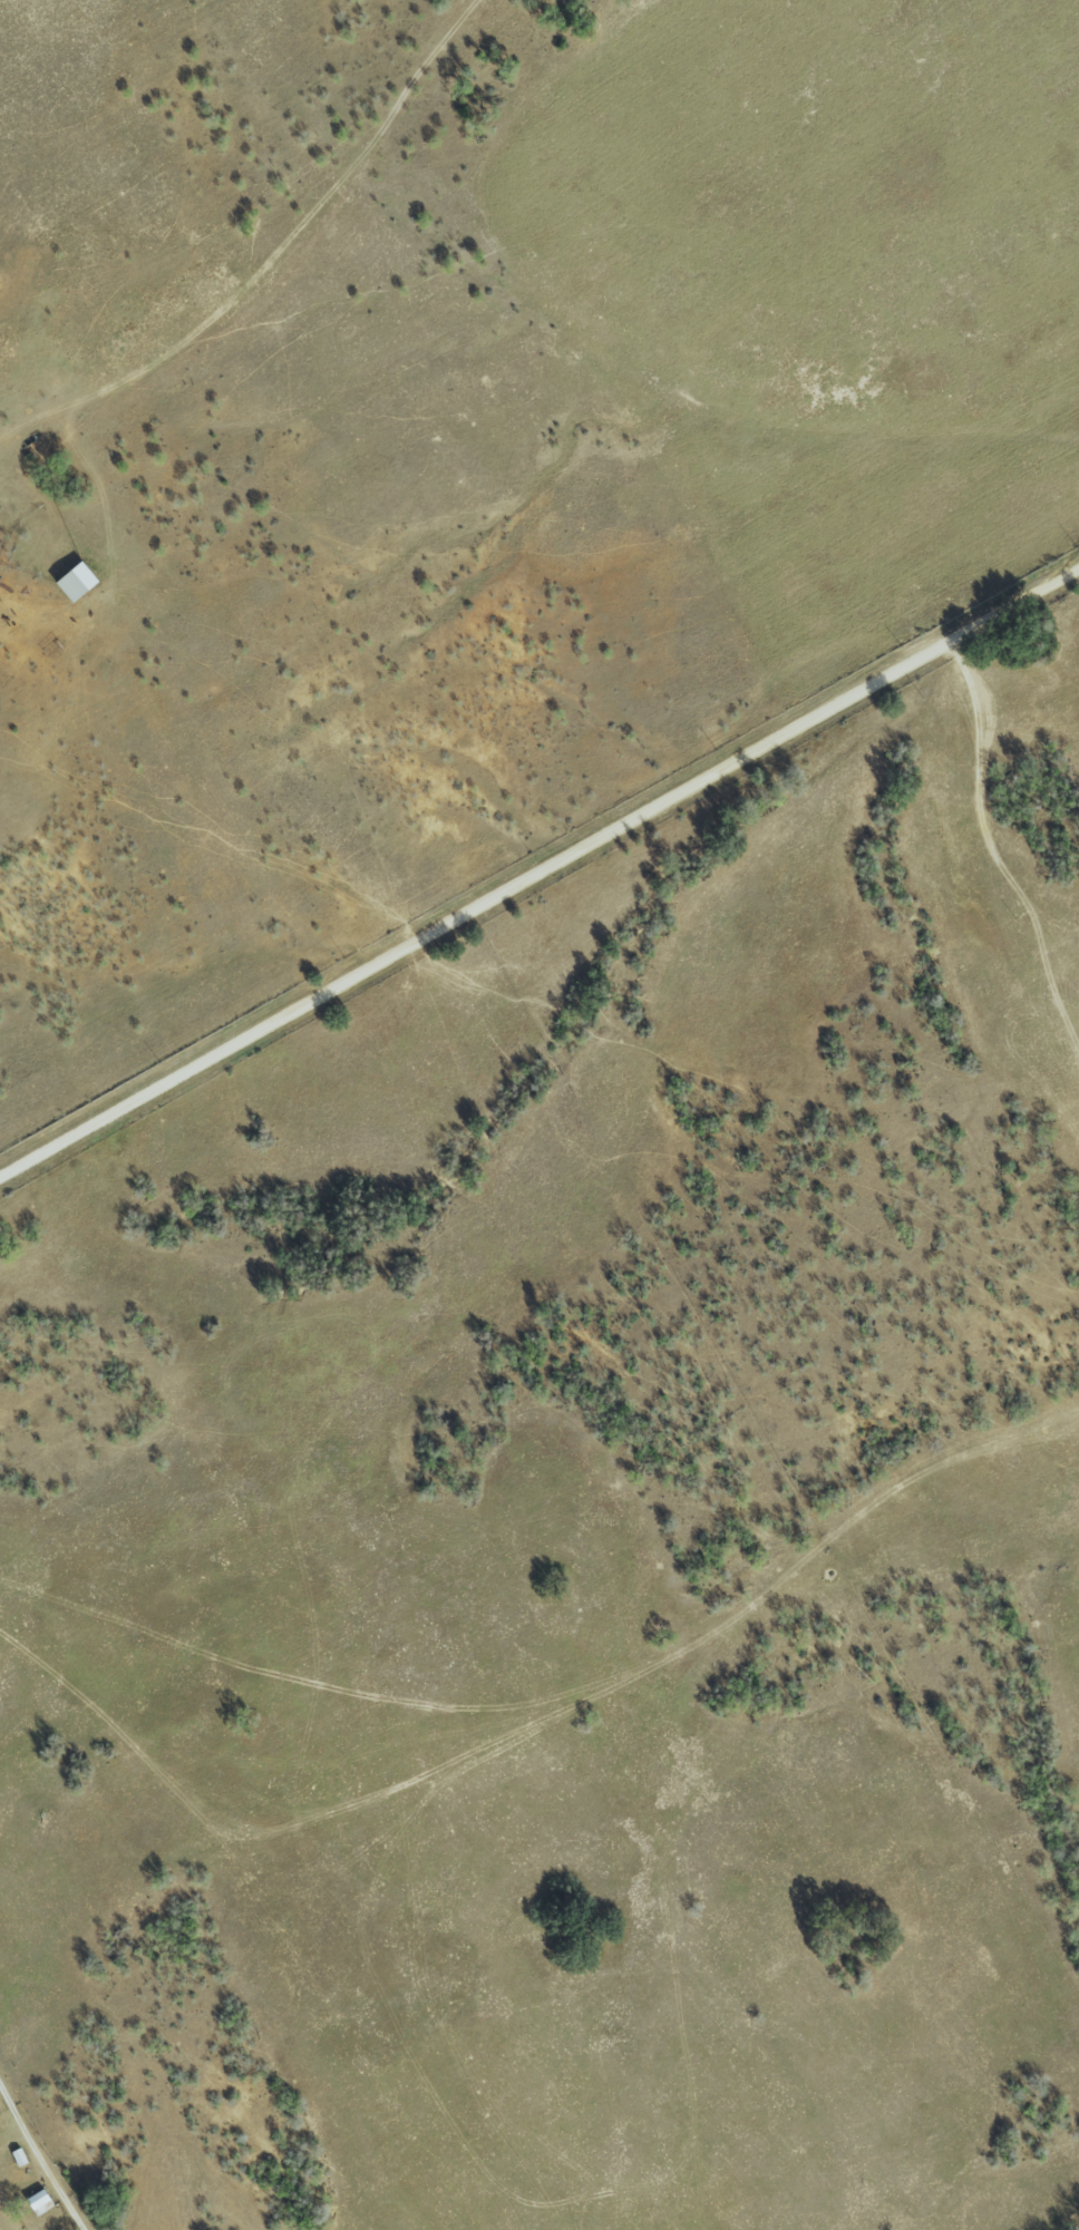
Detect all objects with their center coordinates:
road: (537, 869)
road: (37, 2162)

